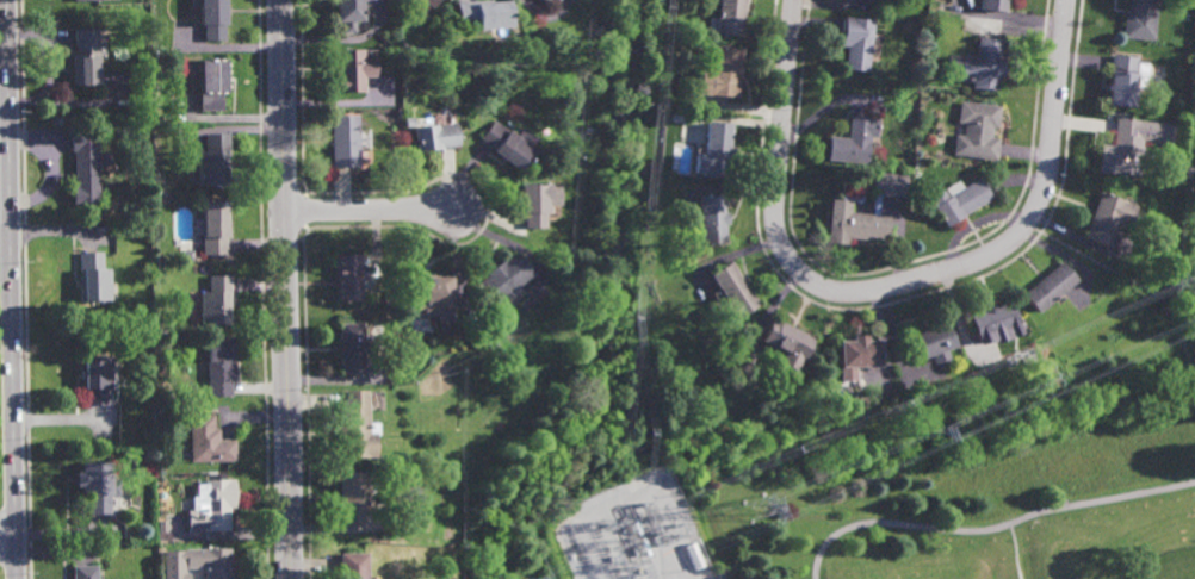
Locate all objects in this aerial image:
building: (83, 0)
building: (544, 0)
building: (429, 2)
building: (993, 4)
building: (348, 13)
building: (485, 13)
building: (213, 18)
building: (730, 18)
building: (1140, 19)
building: (662, 26)
building: (856, 41)
building: (85, 56)
building: (979, 63)
building: (353, 69)
building: (724, 73)
building: (1125, 79)
building: (212, 83)
road: (5, 98)
building: (1194, 101)
building: (1193, 113)
building: (409, 122)
building: (977, 130)
building: (435, 136)
building: (345, 141)
building: (854, 141)
building: (510, 144)
building: (1125, 147)
building: (717, 150)
building: (215, 160)
building: (83, 167)
building: (891, 185)
building: (958, 199)
building: (538, 203)
road: (369, 208)
building: (1107, 217)
building: (714, 219)
building: (854, 224)
road: (1029, 228)
building: (216, 231)
road: (1119, 272)
building: (94, 276)
building: (348, 276)
building: (504, 279)
road: (892, 286)
building: (1048, 286)
road: (12, 289)
road: (286, 289)
building: (733, 292)
building: (432, 297)
building: (217, 300)
building: (993, 320)
road: (1188, 334)
building: (785, 342)
building: (929, 342)
building: (352, 348)
road: (1188, 355)
building: (855, 359)
building: (221, 366)
building: (97, 379)
building: (355, 428)
power tower: (933, 434)
building: (209, 441)
building: (161, 465)
building: (222, 475)
building: (98, 486)
building: (354, 499)
building: (212, 506)
power tower: (761, 508)
road: (992, 530)
power substation: (632, 535)
road: (8, 537)
road: (1016, 552)
building: (696, 555)
building: (213, 562)
building: (353, 566)
park: (1169, 566)
building: (85, 572)
power tower: (525, 578)

